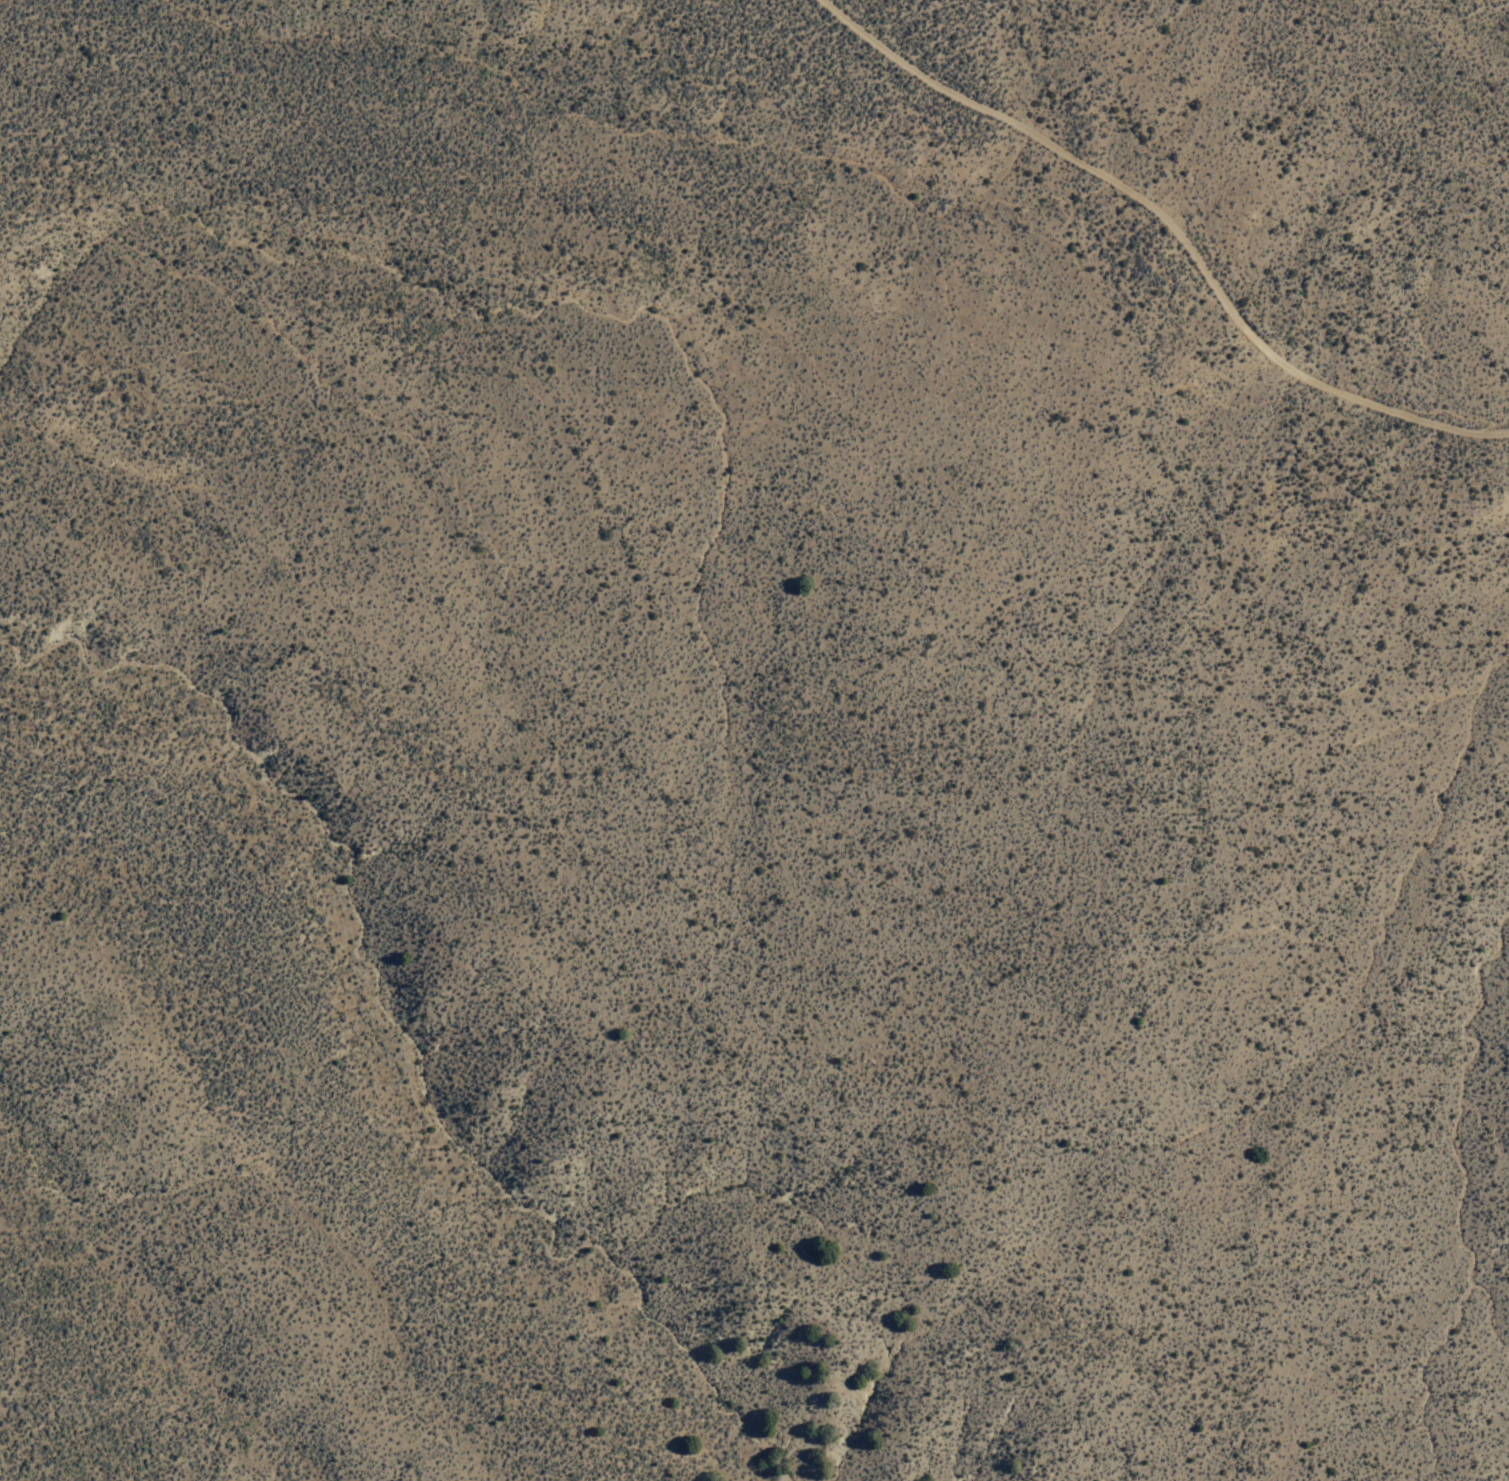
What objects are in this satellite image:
road: (1180, 220)

